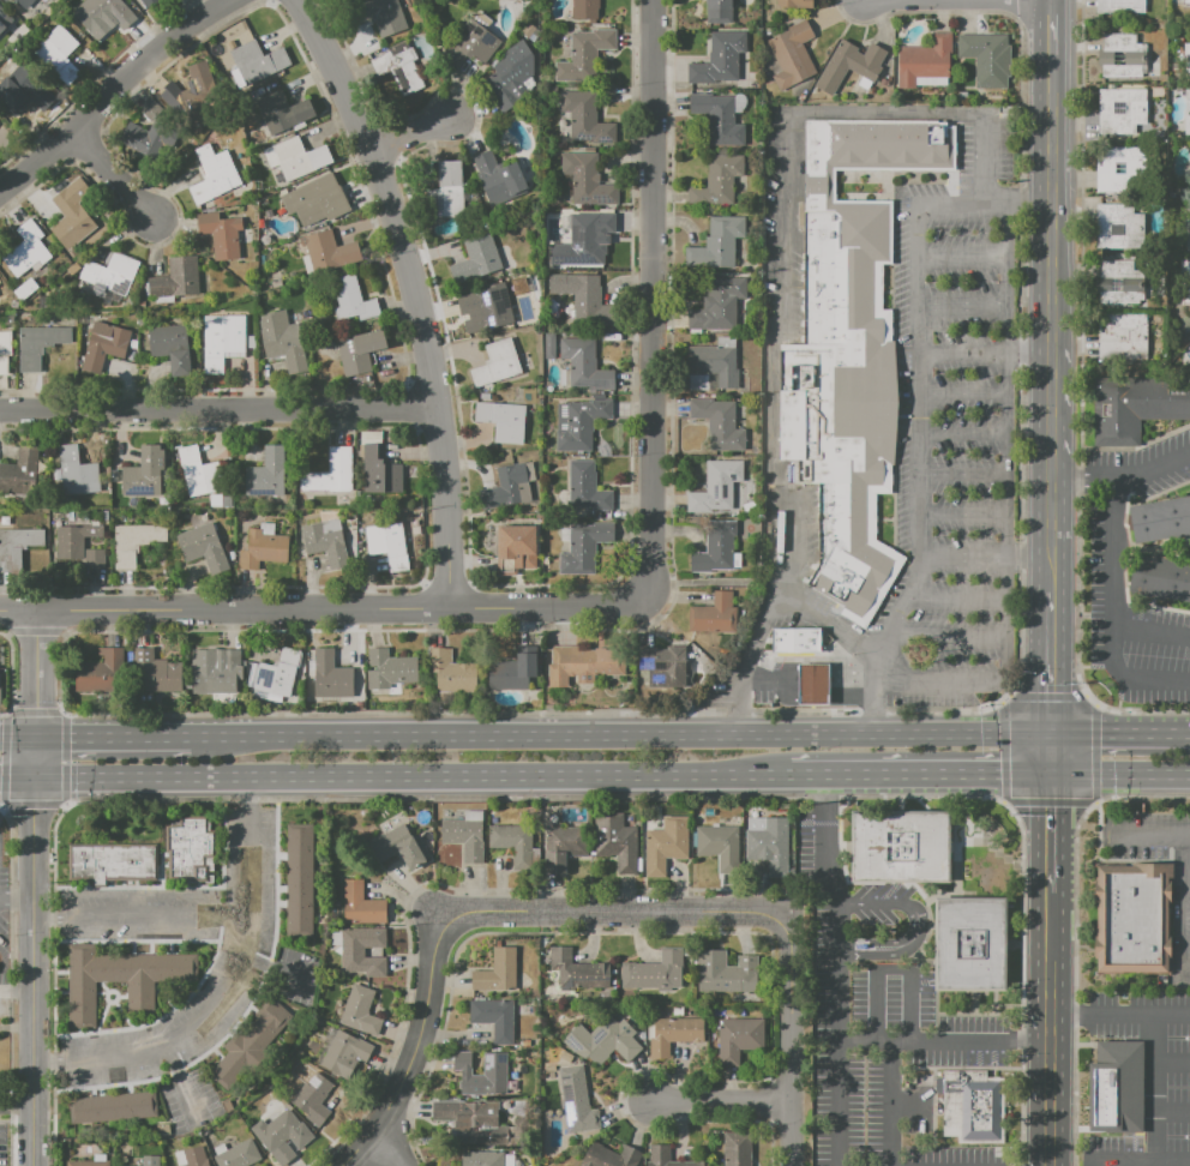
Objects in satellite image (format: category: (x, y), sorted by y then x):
building: (5, 0)
building: (1186, 1)
building: (25, 2)
building: (148, 2)
building: (794, 4)
building: (1120, 6)
building: (584, 8)
building: (719, 11)
building: (106, 13)
building: (379, 16)
building: (5, 19)
building: (528, 30)
building: (474, 42)
building: (583, 53)
building: (58, 54)
building: (792, 54)
building: (1120, 56)
building: (719, 58)
building: (986, 58)
building: (925, 60)
building: (256, 61)
building: (1186, 61)
building: (849, 65)
building: (399, 66)
road: (92, 80)
building: (504, 83)
building: (24, 89)
road: (115, 90)
building: (194, 97)
building: (149, 108)
building: (1120, 110)
building: (283, 112)
building: (1186, 112)
road: (884, 115)
building: (585, 118)
building: (717, 118)
road: (410, 136)
building: (137, 137)
building: (841, 145)
building: (902, 145)
building: (294, 160)
road: (984, 160)
building: (1119, 168)
building: (1135, 168)
road: (114, 174)
building: (214, 174)
building: (499, 179)
building: (587, 179)
building: (717, 181)
building: (445, 191)
building: (315, 200)
road: (1030, 205)
building: (72, 215)
road: (782, 221)
building: (1118, 227)
building: (1188, 233)
building: (221, 234)
building: (582, 239)
building: (717, 244)
building: (26, 250)
building: (329, 251)
road: (963, 257)
building: (476, 259)
building: (108, 272)
building: (175, 280)
building: (1185, 281)
building: (1120, 282)
road: (1052, 288)
road: (415, 294)
building: (584, 297)
road: (650, 297)
building: (351, 299)
building: (487, 305)
building: (716, 305)
road: (963, 305)
road: (1030, 305)
building: (1126, 336)
building: (283, 339)
building: (221, 343)
building: (38, 344)
building: (103, 345)
building: (170, 345)
building: (549, 345)
building: (5, 349)
road: (964, 350)
building: (360, 351)
building: (716, 360)
building: (497, 363)
building: (584, 363)
road: (1009, 380)
building: (842, 384)
road: (963, 395)
building: (1164, 397)
road: (217, 407)
road: (918, 410)
building: (1116, 411)
road: (770, 415)
building: (503, 420)
building: (579, 422)
building: (719, 422)
road: (962, 433)
parking lot: (934, 449)
building: (377, 464)
building: (80, 465)
building: (19, 471)
building: (200, 471)
building: (331, 471)
building: (145, 473)
road: (962, 473)
building: (266, 474)
road: (1123, 476)
building: (511, 485)
building: (716, 486)
building: (587, 488)
road: (963, 513)
building: (104, 516)
building: (1160, 519)
building: (134, 542)
building: (326, 542)
building: (387, 543)
building: (79, 545)
building: (17, 546)
building: (202, 547)
building: (263, 547)
building: (584, 547)
building: (715, 547)
building: (515, 548)
road: (782, 548)
road: (962, 555)
road: (1029, 557)
building: (1162, 578)
road: (711, 582)
road: (1113, 593)
road: (956, 599)
road: (547, 606)
road: (244, 609)
road: (18, 612)
building: (714, 614)
road: (1005, 617)
road: (827, 625)
road: (946, 637)
road: (761, 639)
building: (794, 639)
road: (1050, 654)
building: (589, 663)
building: (661, 666)
building: (387, 668)
building: (449, 669)
building: (155, 671)
building: (100, 672)
building: (217, 672)
building: (277, 673)
building: (511, 673)
road: (36, 674)
road: (812, 674)
road: (849, 674)
building: (330, 677)
road: (938, 677)
road: (1126, 680)
road: (769, 683)
building: (812, 684)
gas station: (812, 684)
road: (781, 693)
traffic signals: (1050, 693)
road: (812, 696)
road: (849, 696)
road: (1094, 703)
traffic signals: (36, 708)
road: (739, 708)
road: (871, 715)
traffic signals: (1101, 732)
road: (1120, 732)
road: (618, 734)
road: (18, 737)
traffic signals: (70, 737)
road: (109, 737)
road: (1051, 753)
road: (64, 769)
road: (4, 773)
road: (1120, 775)
road: (405, 776)
road: (915, 776)
traffic signals: (999, 776)
road: (17, 780)
road: (536, 798)
road: (36, 801)
traffic signals: (1051, 805)
traffic signals: (34, 810)
road: (1149, 834)
road: (1050, 835)
building: (463, 836)
building: (512, 840)
building: (614, 842)
building: (398, 843)
building: (666, 845)
building: (719, 846)
building: (898, 846)
building: (563, 847)
building: (769, 847)
building: (190, 849)
building: (112, 863)
building: (300, 878)
road: (16, 898)
road: (1188, 901)
building: (360, 904)
road: (837, 904)
road: (613, 912)
road: (140, 914)
building: (1131, 916)
road: (918, 926)
road: (888, 942)
building: (968, 945)
road: (32, 951)
building: (351, 952)
road: (1048, 955)
road: (275, 968)
building: (578, 970)
building: (495, 972)
building: (653, 972)
road: (891, 972)
building: (725, 973)
building: (120, 979)
road: (16, 991)
road: (226, 992)
parking lot: (1150, 1000)
building: (359, 1010)
road: (1119, 1015)
building: (492, 1017)
building: (673, 1034)
road: (879, 1036)
road: (791, 1038)
building: (737, 1039)
building: (602, 1040)
building: (250, 1044)
building: (343, 1048)
road: (419, 1048)
road: (1170, 1063)
building: (494, 1072)
road: (180, 1082)
building: (1116, 1087)
road: (1149, 1088)
road: (1048, 1090)
building: (311, 1094)
building: (575, 1100)
road: (722, 1101)
road: (888, 1101)
road: (907, 1101)
building: (974, 1105)
road: (16, 1106)
road: (1170, 1106)
building: (113, 1107)
building: (470, 1120)
building: (280, 1130)
building: (735, 1149)
building: (282, 1154)
building: (238, 1155)
road: (384, 1155)
building: (194, 1156)
building: (609, 1156)
building: (482, 1158)
building: (667, 1158)
building: (151, 1160)
road: (1137, 1162)
building: (88, 1164)

